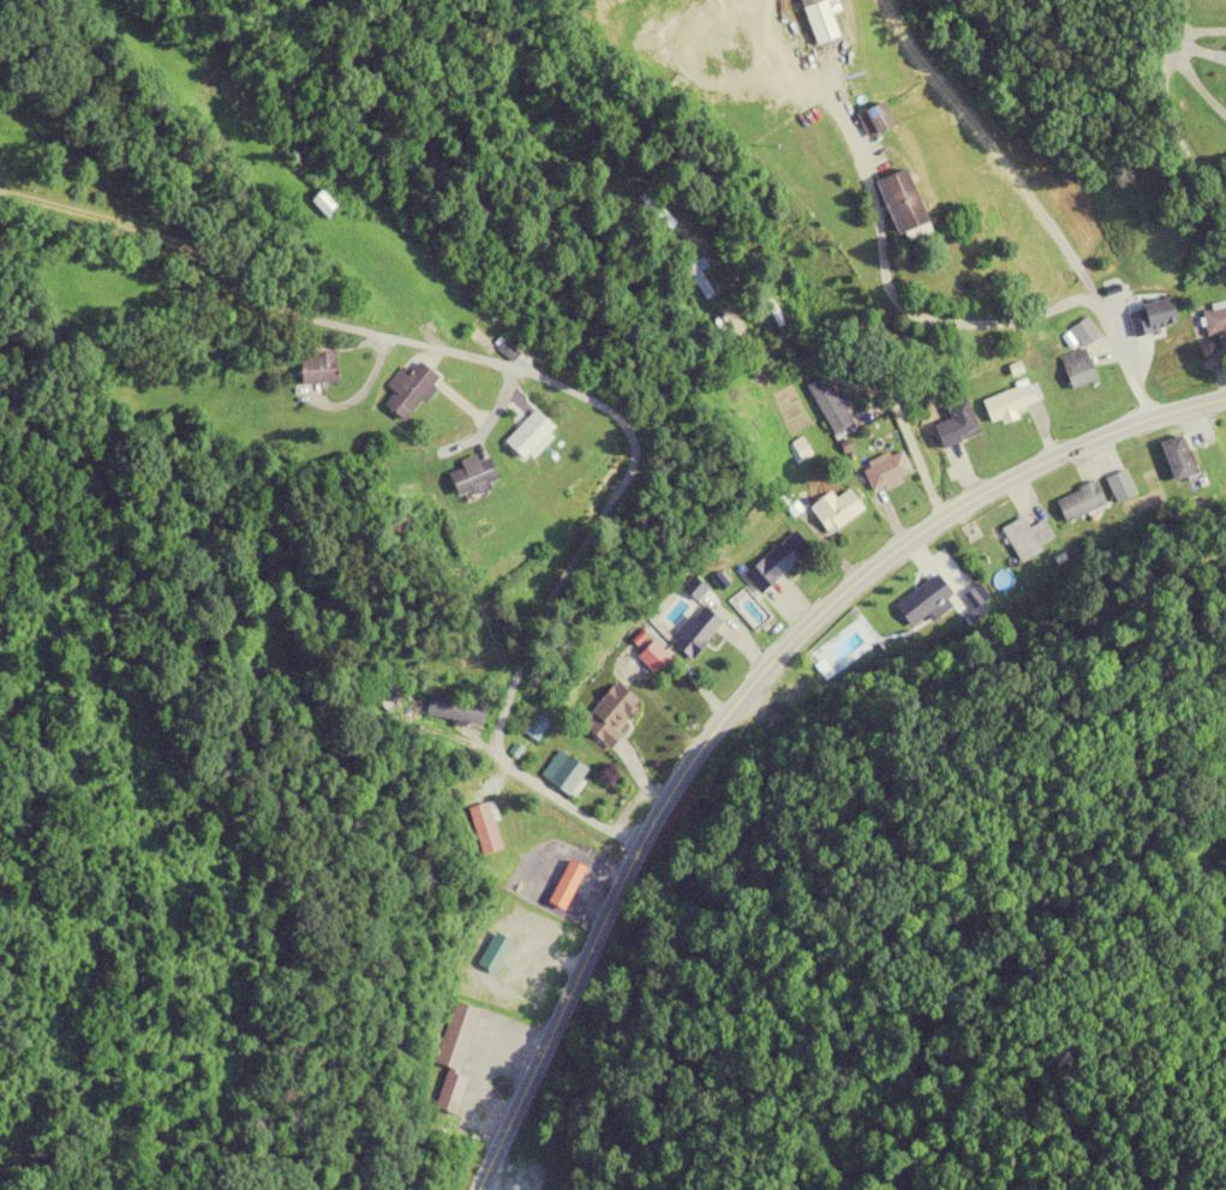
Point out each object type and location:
road: (1179, 16)
building: (818, 20)
road: (1206, 31)
building: (872, 119)
road: (1167, 121)
building: (901, 199)
building: (322, 205)
building: (696, 247)
road: (934, 321)
building: (1215, 322)
building: (1150, 333)
building: (316, 367)
building: (1076, 369)
road: (564, 389)
building: (407, 390)
road: (871, 394)
building: (1010, 402)
building: (829, 406)
building: (958, 421)
building: (527, 435)
building: (1176, 458)
building: (884, 470)
building: (471, 476)
building: (1077, 502)
building: (835, 510)
building: (1024, 538)
building: (781, 557)
building: (921, 599)
building: (695, 633)
building: (651, 656)
road: (744, 688)
building: (793, 689)
building: (385, 698)
building: (453, 710)
building: (610, 714)
building: (561, 773)
building: (483, 829)
building: (563, 884)
building: (451, 1056)

